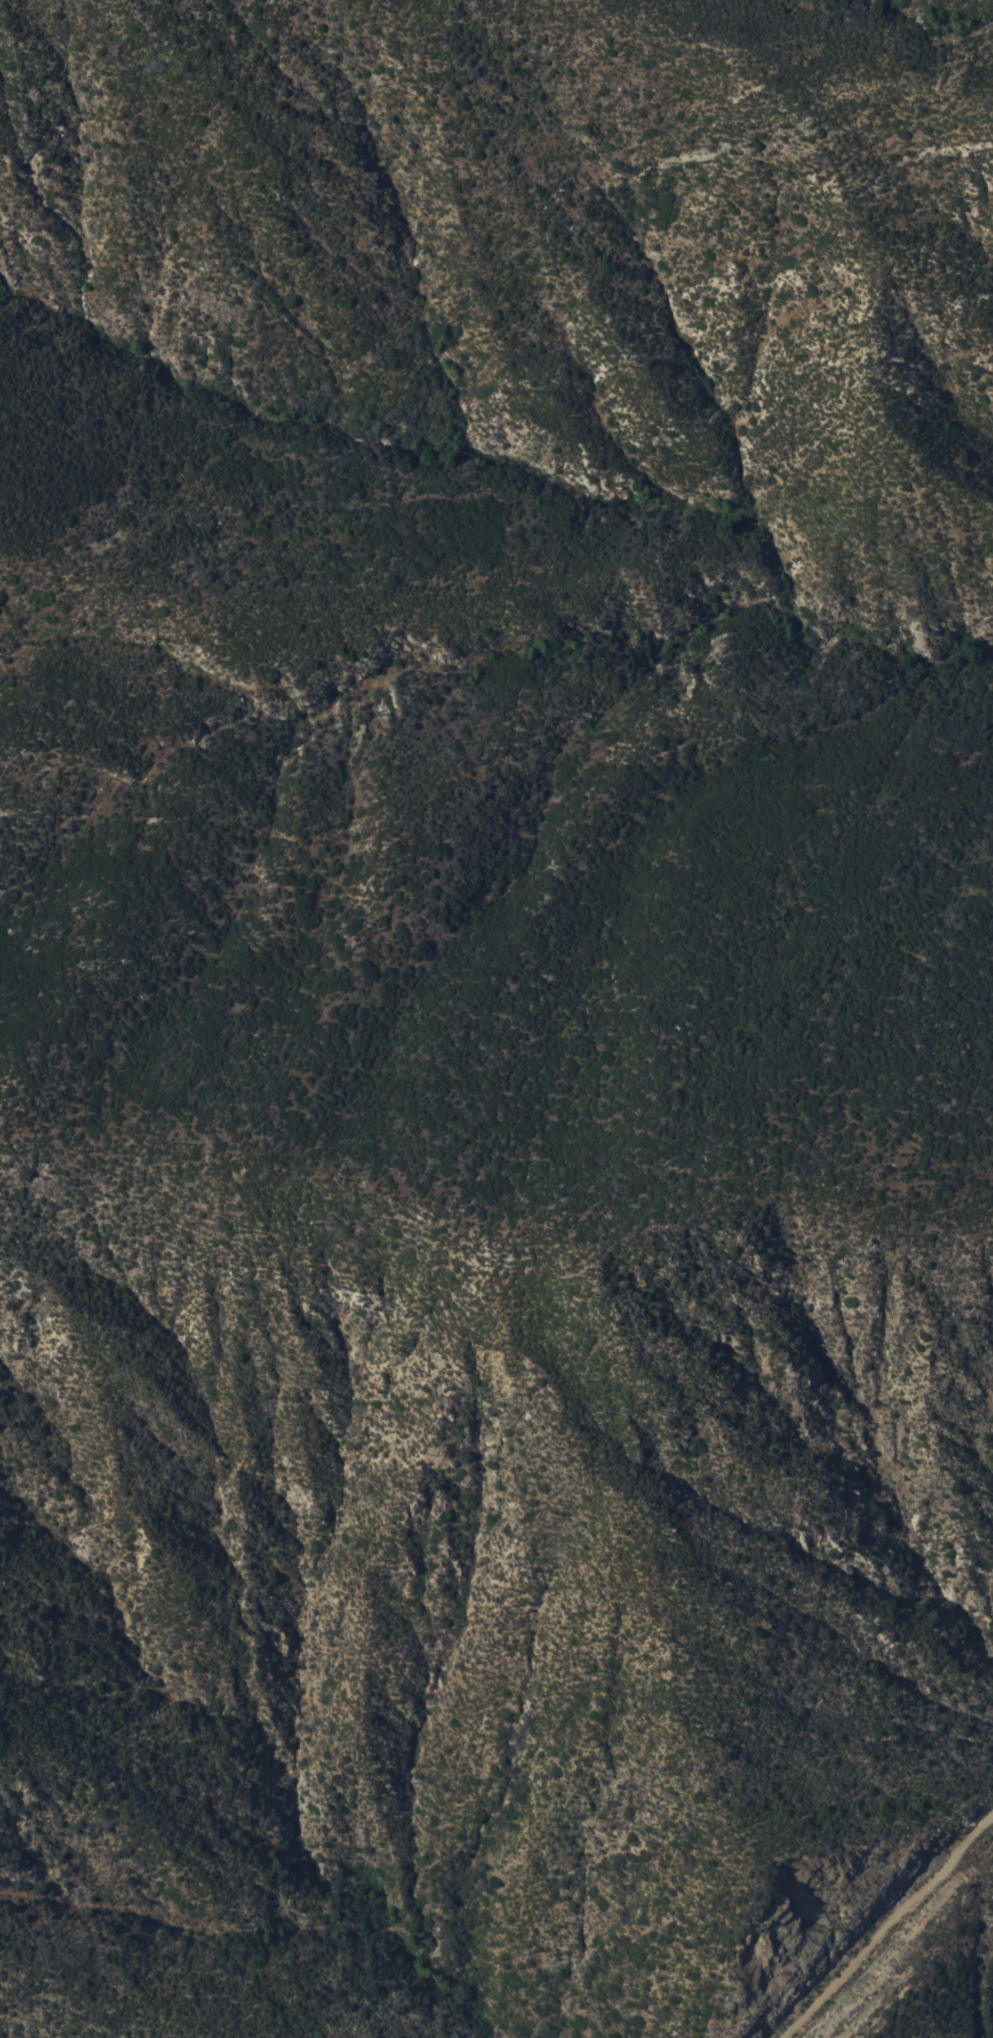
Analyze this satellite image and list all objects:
road: (889, 1925)

